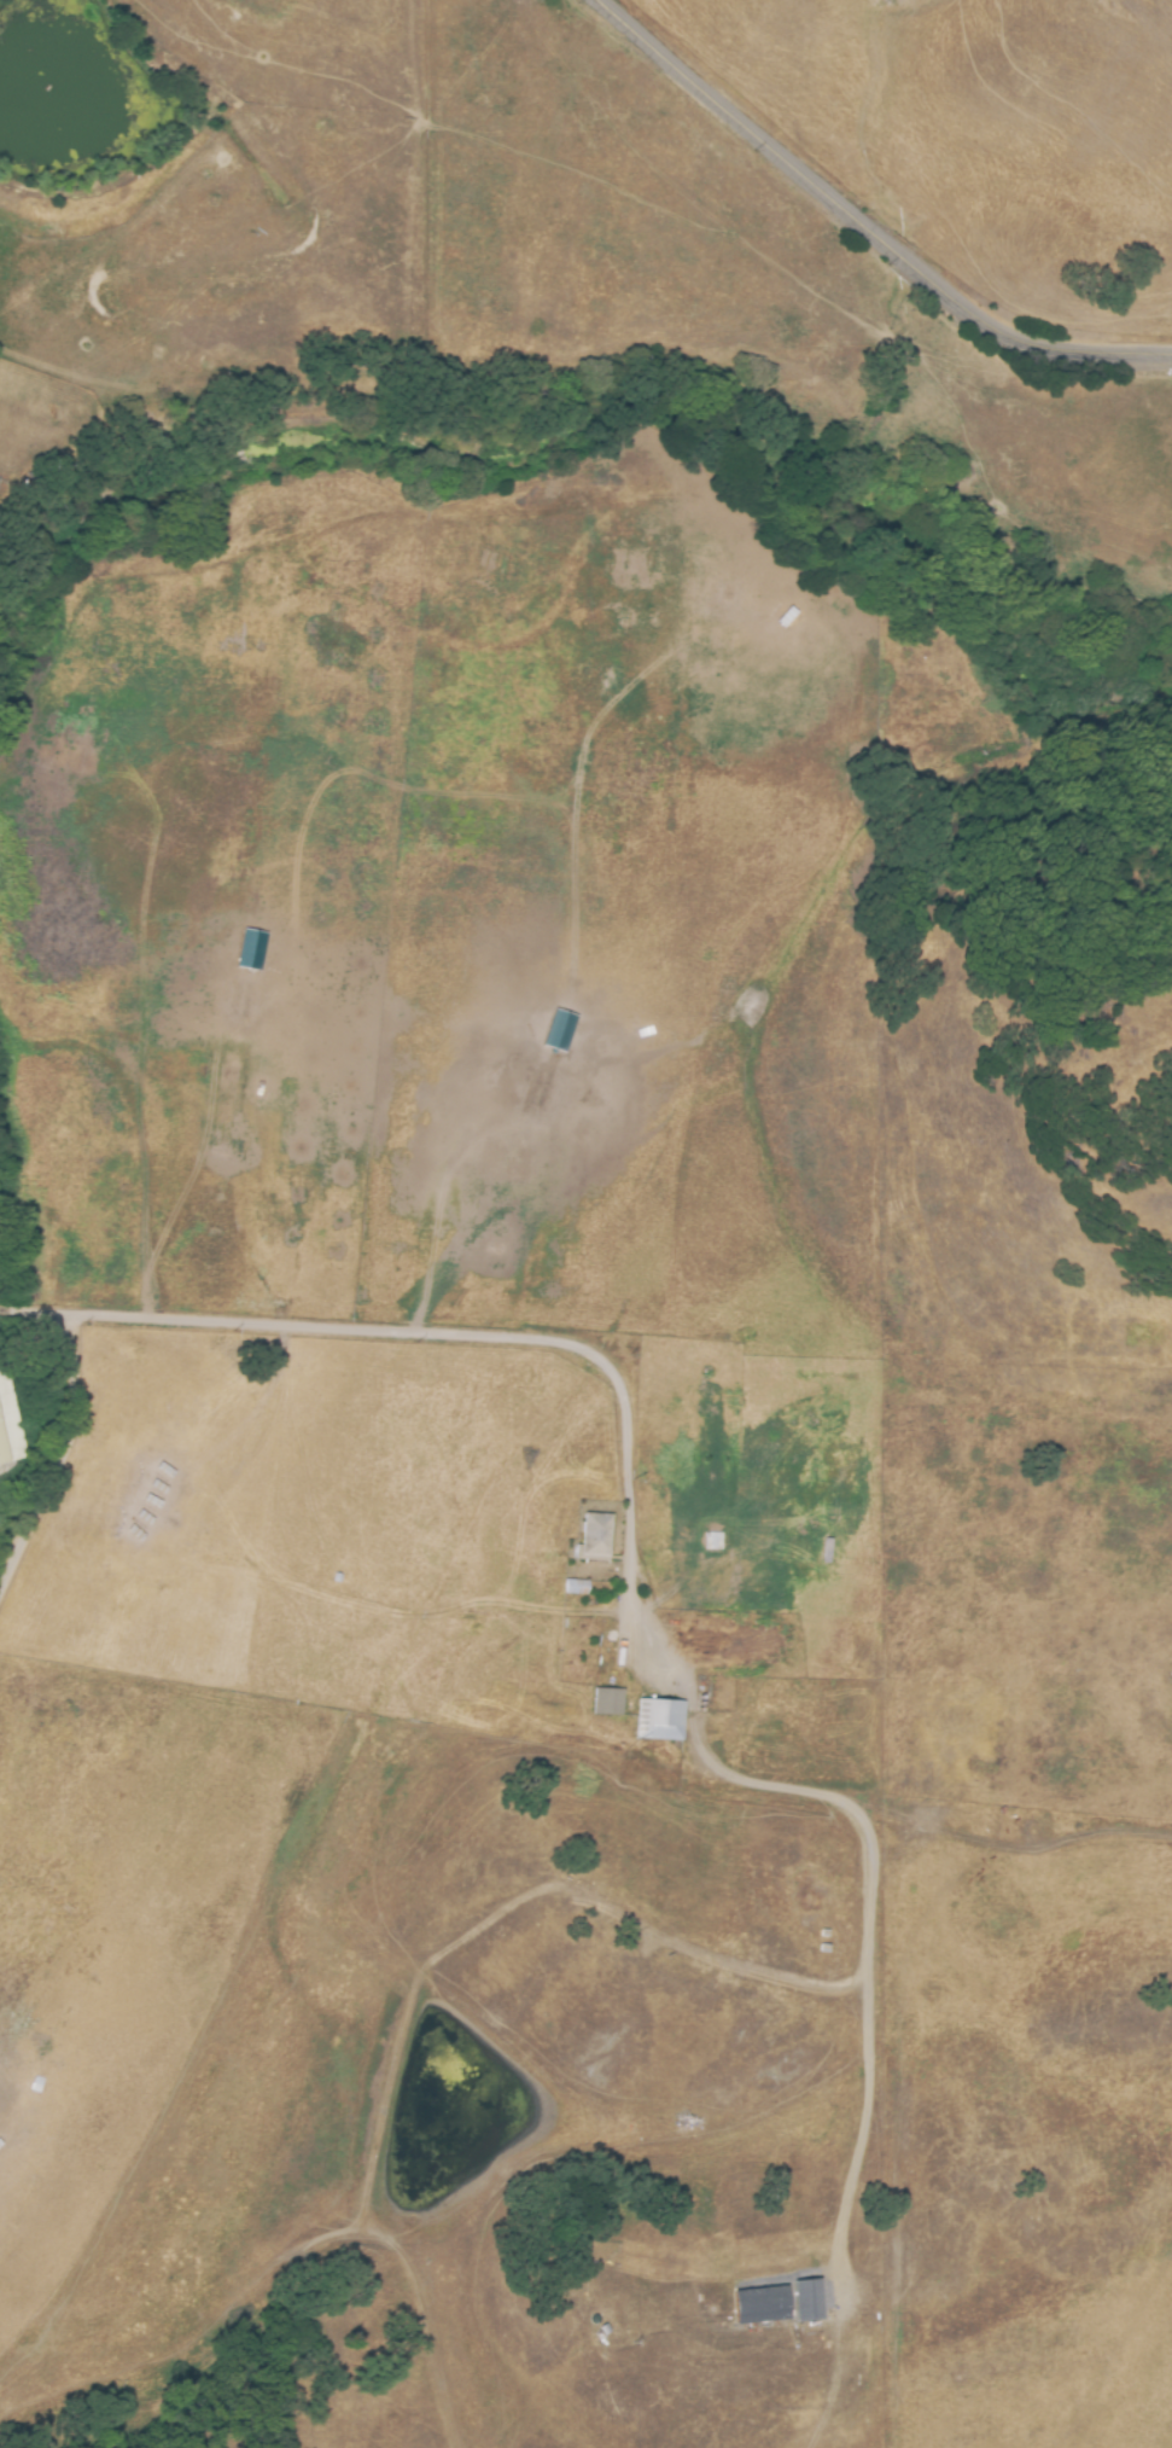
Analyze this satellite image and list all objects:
road: (867, 223)
building: (490, 1250)
road: (51, 1450)
building: (589, 1533)
building: (570, 1586)
road: (634, 1599)
building: (606, 1700)
building: (658, 1719)
building: (782, 2296)

